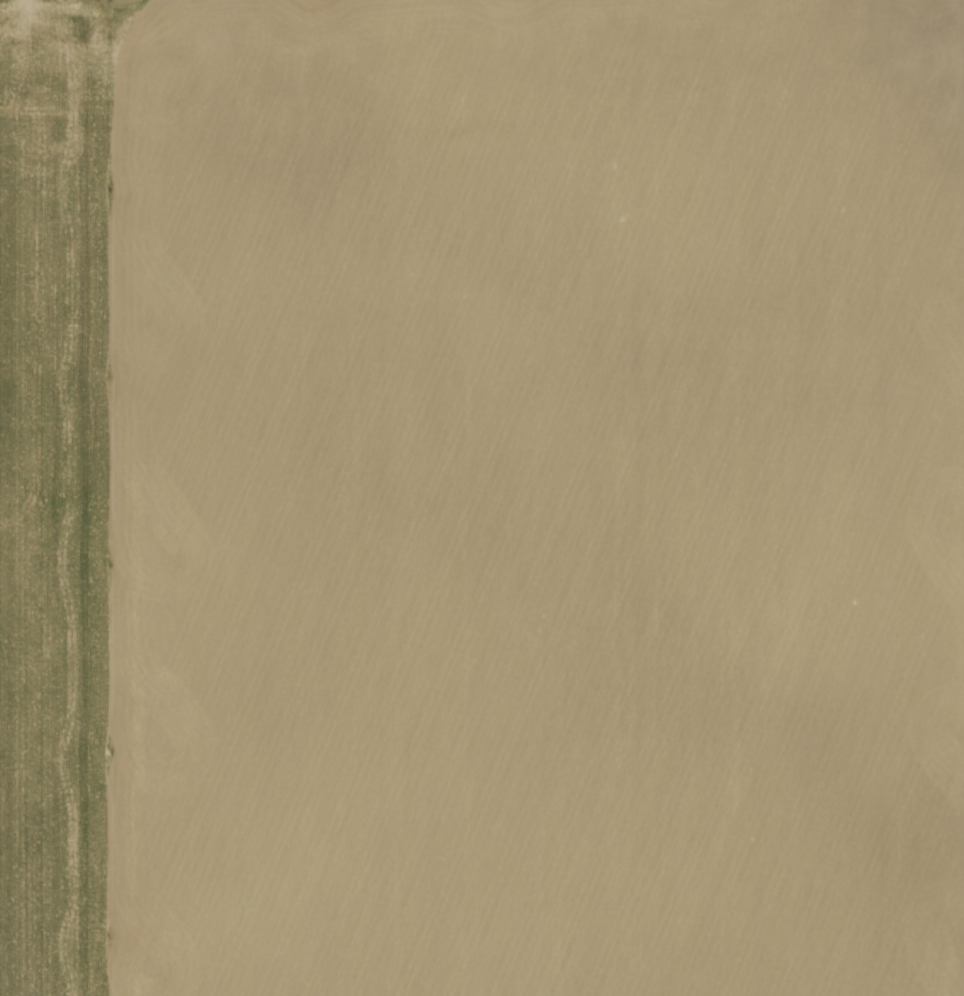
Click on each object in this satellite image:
crop: (482, 498)

